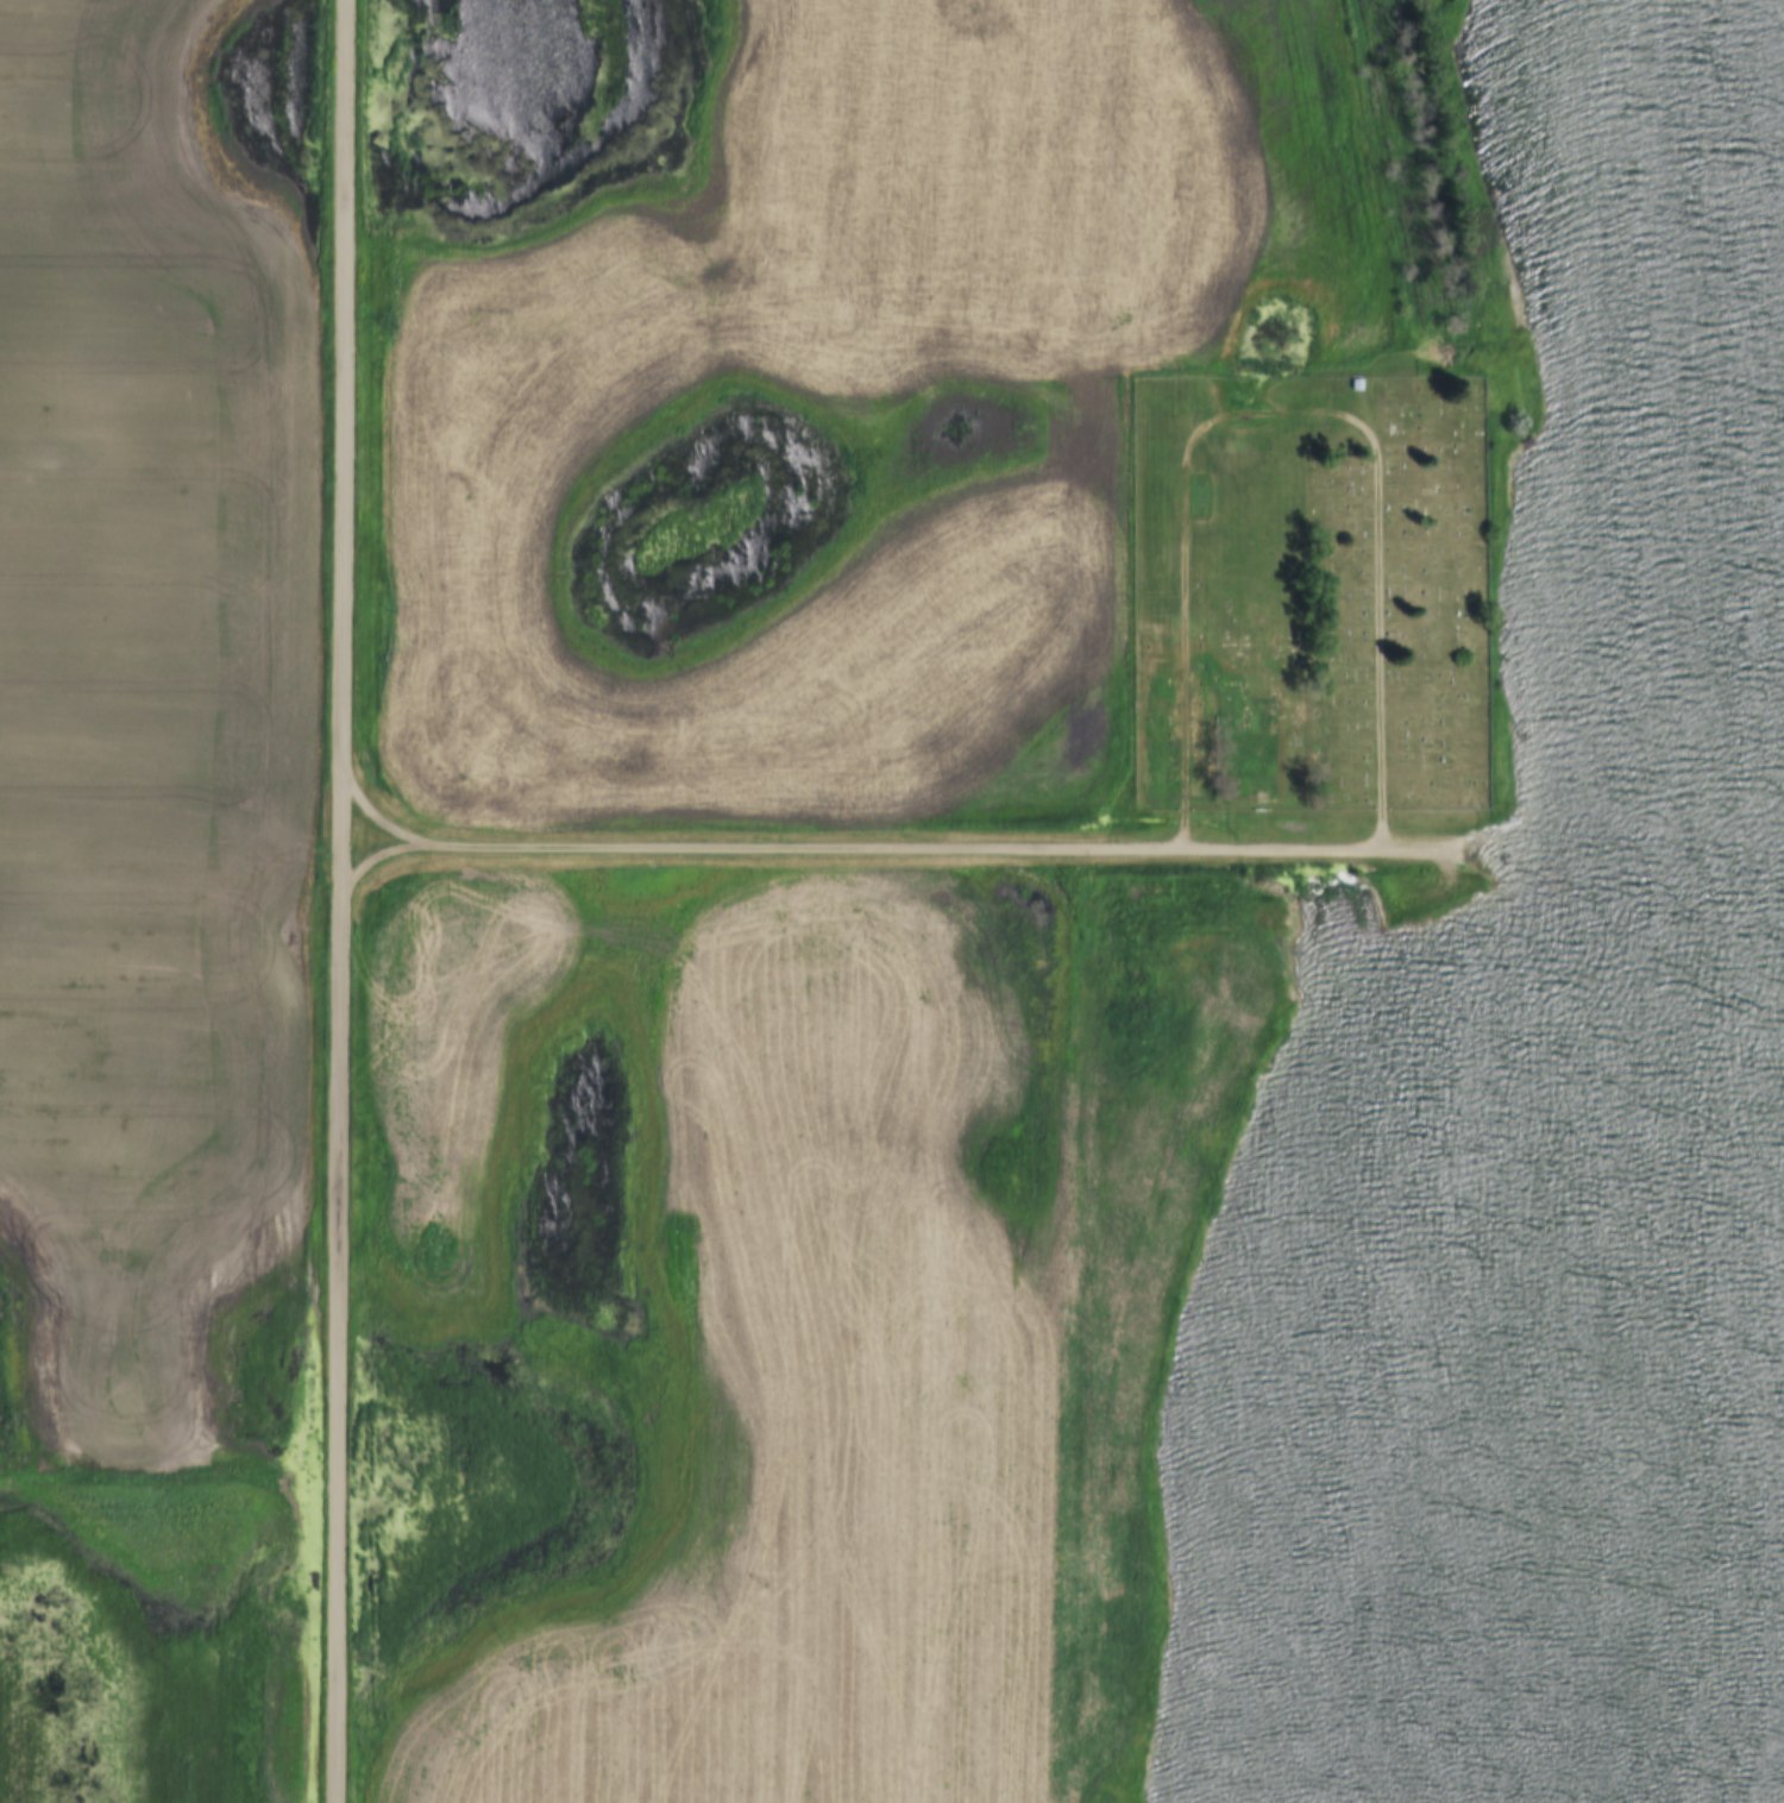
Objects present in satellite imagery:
road: (1284, 412)
road: (938, 847)
road: (337, 900)

